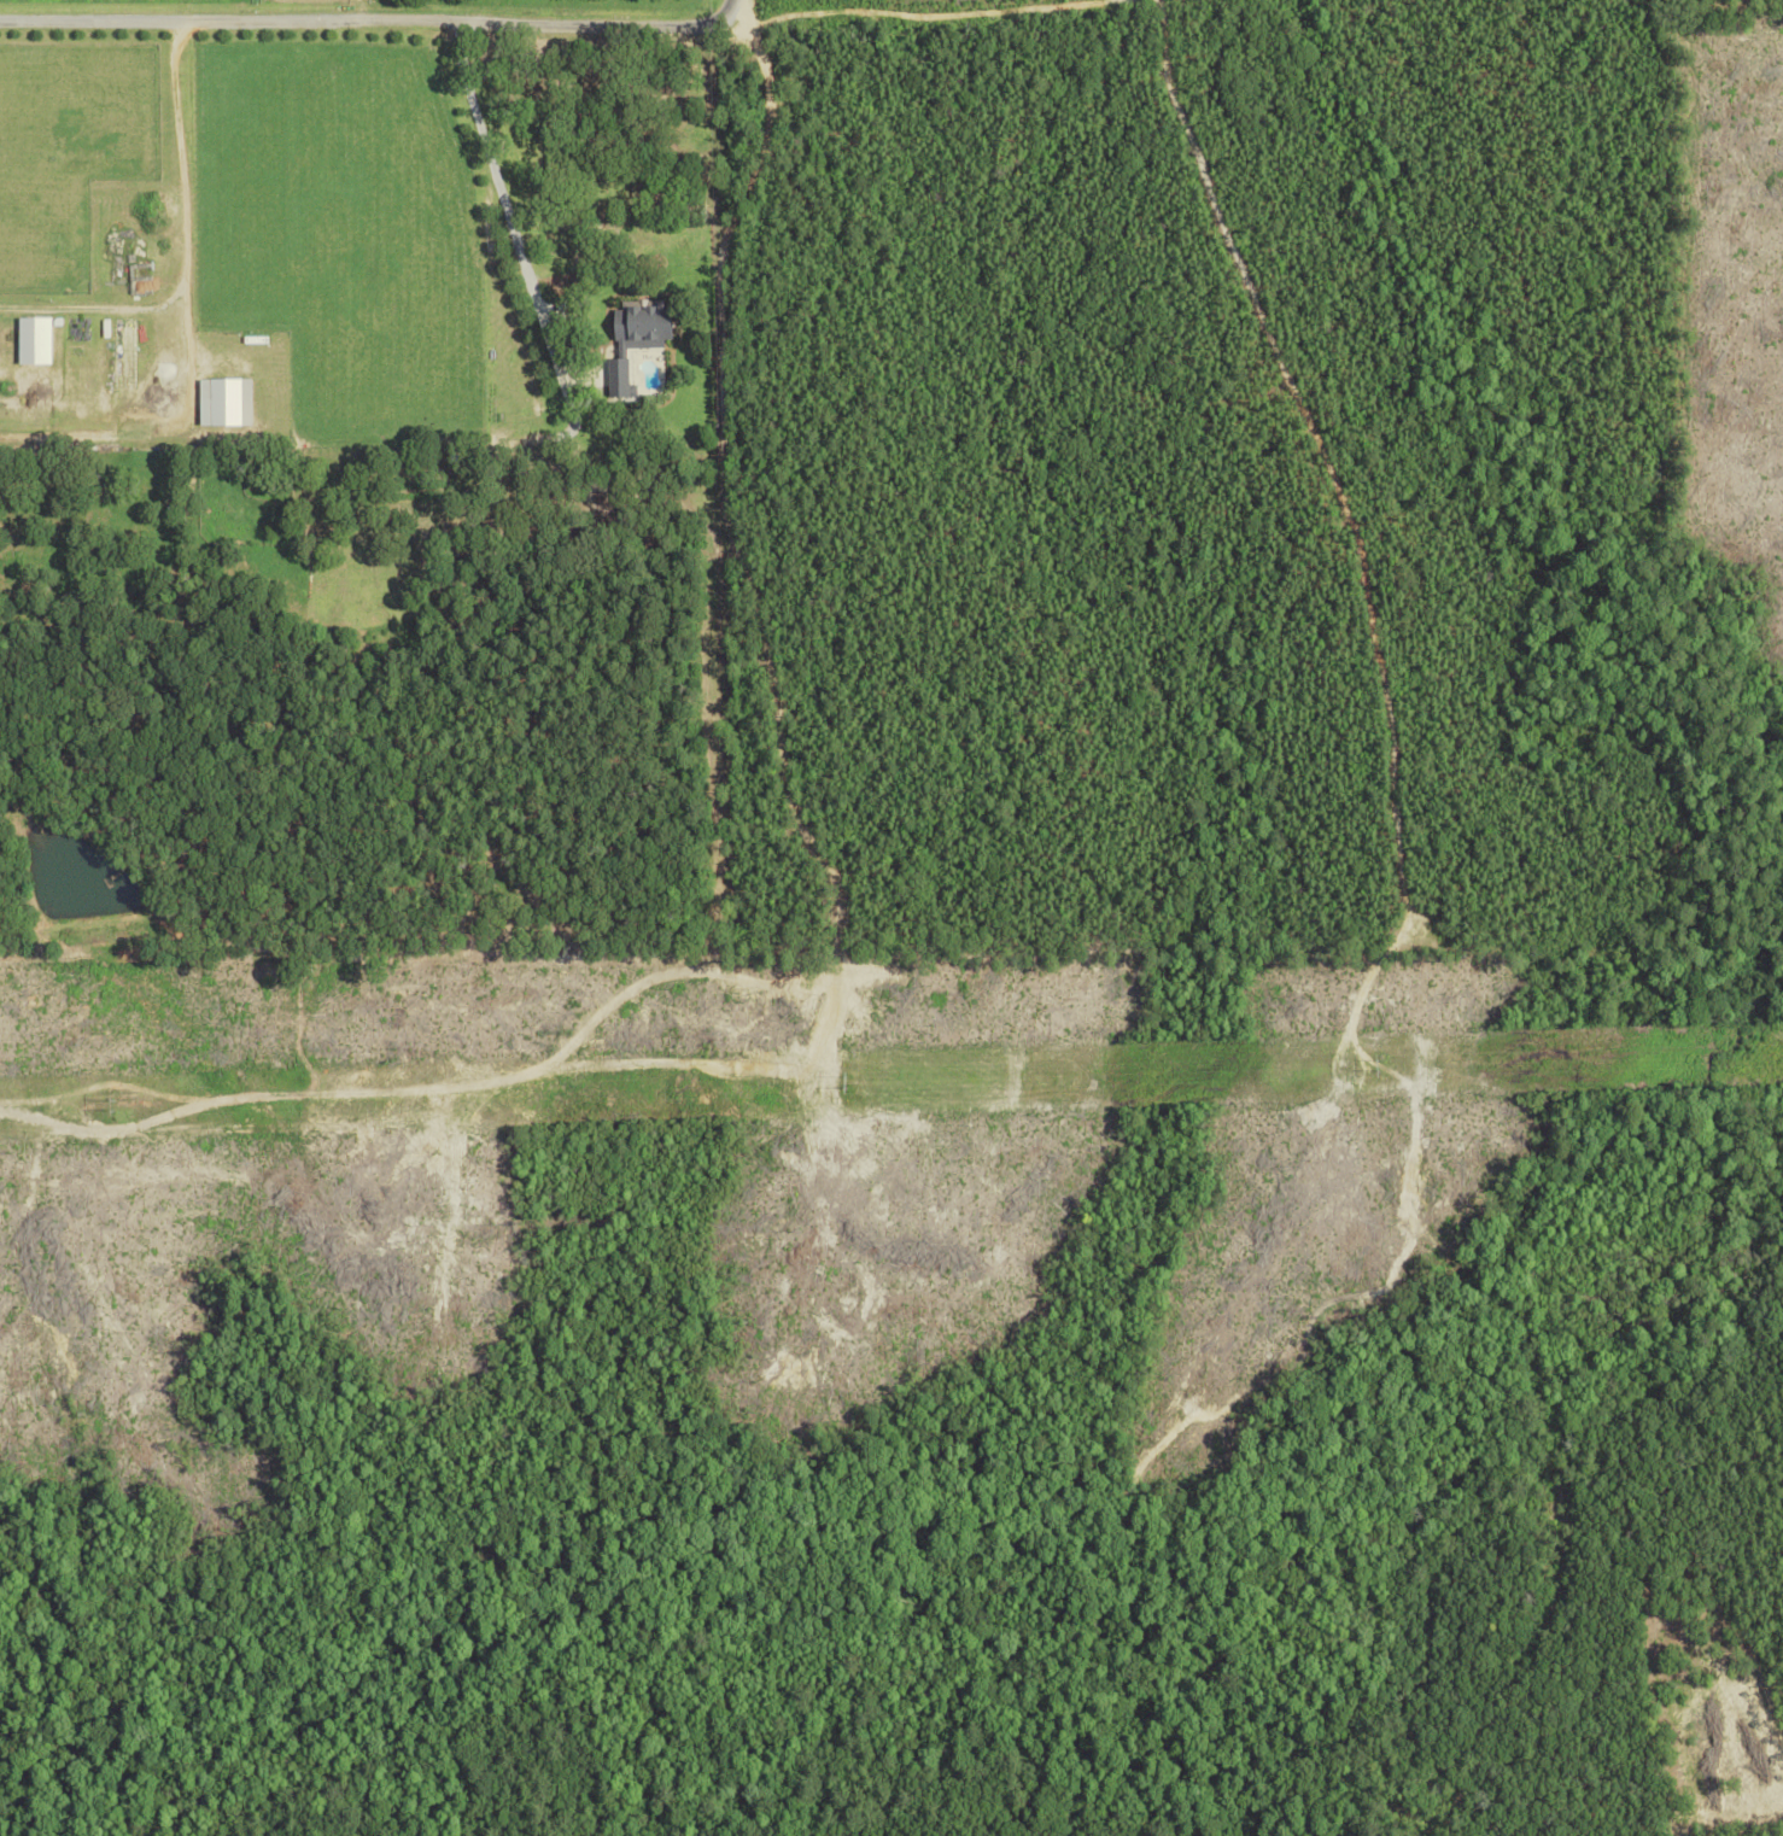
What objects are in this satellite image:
road: (368, 21)
road: (498, 183)
road: (185, 247)
building: (638, 334)
building: (35, 339)
building: (124, 352)
building: (226, 400)

